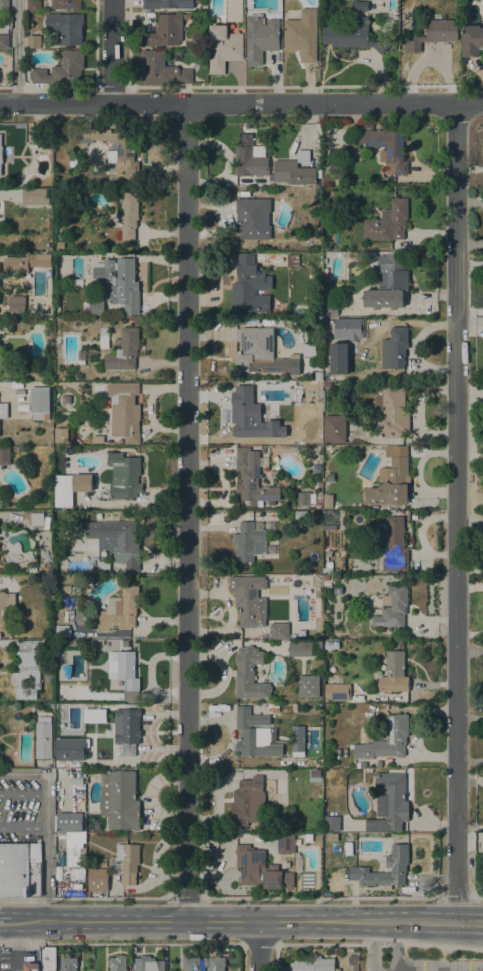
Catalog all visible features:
building: (66, 4)
building: (167, 4)
building: (4, 5)
building: (33, 6)
building: (358, 6)
building: (66, 27)
building: (165, 31)
building: (433, 32)
building: (302, 35)
building: (353, 36)
building: (261, 37)
building: (472, 40)
building: (4, 41)
building: (34, 41)
building: (223, 48)
road: (16, 51)
road: (113, 51)
building: (163, 69)
building: (62, 70)
road: (8, 86)
road: (241, 104)
building: (40, 137)
building: (125, 148)
building: (388, 149)
building: (0, 154)
building: (303, 156)
building: (250, 157)
building: (21, 159)
building: (293, 173)
building: (245, 180)
building: (260, 180)
building: (2, 182)
building: (259, 189)
building: (36, 196)
building: (129, 214)
building: (342, 214)
building: (250, 217)
building: (388, 222)
building: (47, 248)
building: (64, 248)
building: (34, 260)
building: (293, 260)
building: (76, 283)
building: (119, 283)
building: (388, 283)
building: (250, 286)
building: (328, 295)
building: (96, 308)
building: (330, 308)
building: (104, 337)
building: (58, 341)
building: (395, 348)
building: (124, 350)
building: (261, 353)
building: (81, 356)
building: (337, 358)
building: (326, 384)
building: (295, 387)
building: (40, 403)
building: (3, 410)
building: (124, 411)
building: (391, 411)
building: (247, 414)
building: (334, 429)
building: (61, 435)
building: (97, 439)
building: (5, 456)
building: (252, 479)
building: (79, 480)
building: (390, 484)
building: (69, 487)
building: (303, 499)
building: (327, 501)
building: (318, 504)
road: (187, 512)
road: (456, 512)
building: (315, 514)
building: (301, 515)
building: (35, 518)
building: (327, 519)
building: (117, 540)
building: (249, 542)
building: (395, 545)
building: (328, 562)
building: (103, 567)
building: (311, 585)
building: (327, 586)
building: (66, 589)
building: (337, 590)
building: (249, 600)
building: (5, 605)
building: (392, 608)
building: (120, 610)
building: (279, 631)
building: (62, 632)
building: (331, 645)
building: (300, 648)
building: (29, 668)
building: (394, 673)
building: (127, 674)
building: (249, 674)
building: (48, 679)
building: (309, 686)
building: (336, 691)
building: (273, 707)
building: (285, 712)
building: (127, 730)
building: (256, 734)
building: (43, 737)
building: (296, 738)
building: (387, 739)
building: (107, 741)
building: (69, 752)
building: (363, 764)
building: (315, 773)
road: (23, 795)
building: (119, 800)
building: (248, 802)
building: (389, 803)
building: (70, 822)
building: (332, 823)
road: (45, 824)
road: (22, 827)
building: (309, 837)
building: (333, 837)
building: (287, 843)
building: (74, 859)
building: (125, 862)
building: (395, 865)
building: (260, 869)
building: (20, 870)
building: (97, 879)
road: (85, 897)
road: (187, 897)
road: (321, 897)
road: (455, 897)
road: (477, 897)
road: (5, 920)
road: (28, 921)
road: (117, 921)
road: (335, 921)
road: (121, 943)
road: (258, 943)
road: (319, 943)
road: (385, 943)
road: (395, 945)
road: (260, 946)
road: (373, 946)
road: (444, 946)
building: (356, 958)
building: (48, 959)
building: (68, 963)
building: (118, 963)
building: (191, 963)
building: (215, 963)
building: (148, 964)
building: (313, 964)
building: (31, 967)
building: (355, 967)
road: (440, 969)
road: (392, 970)

